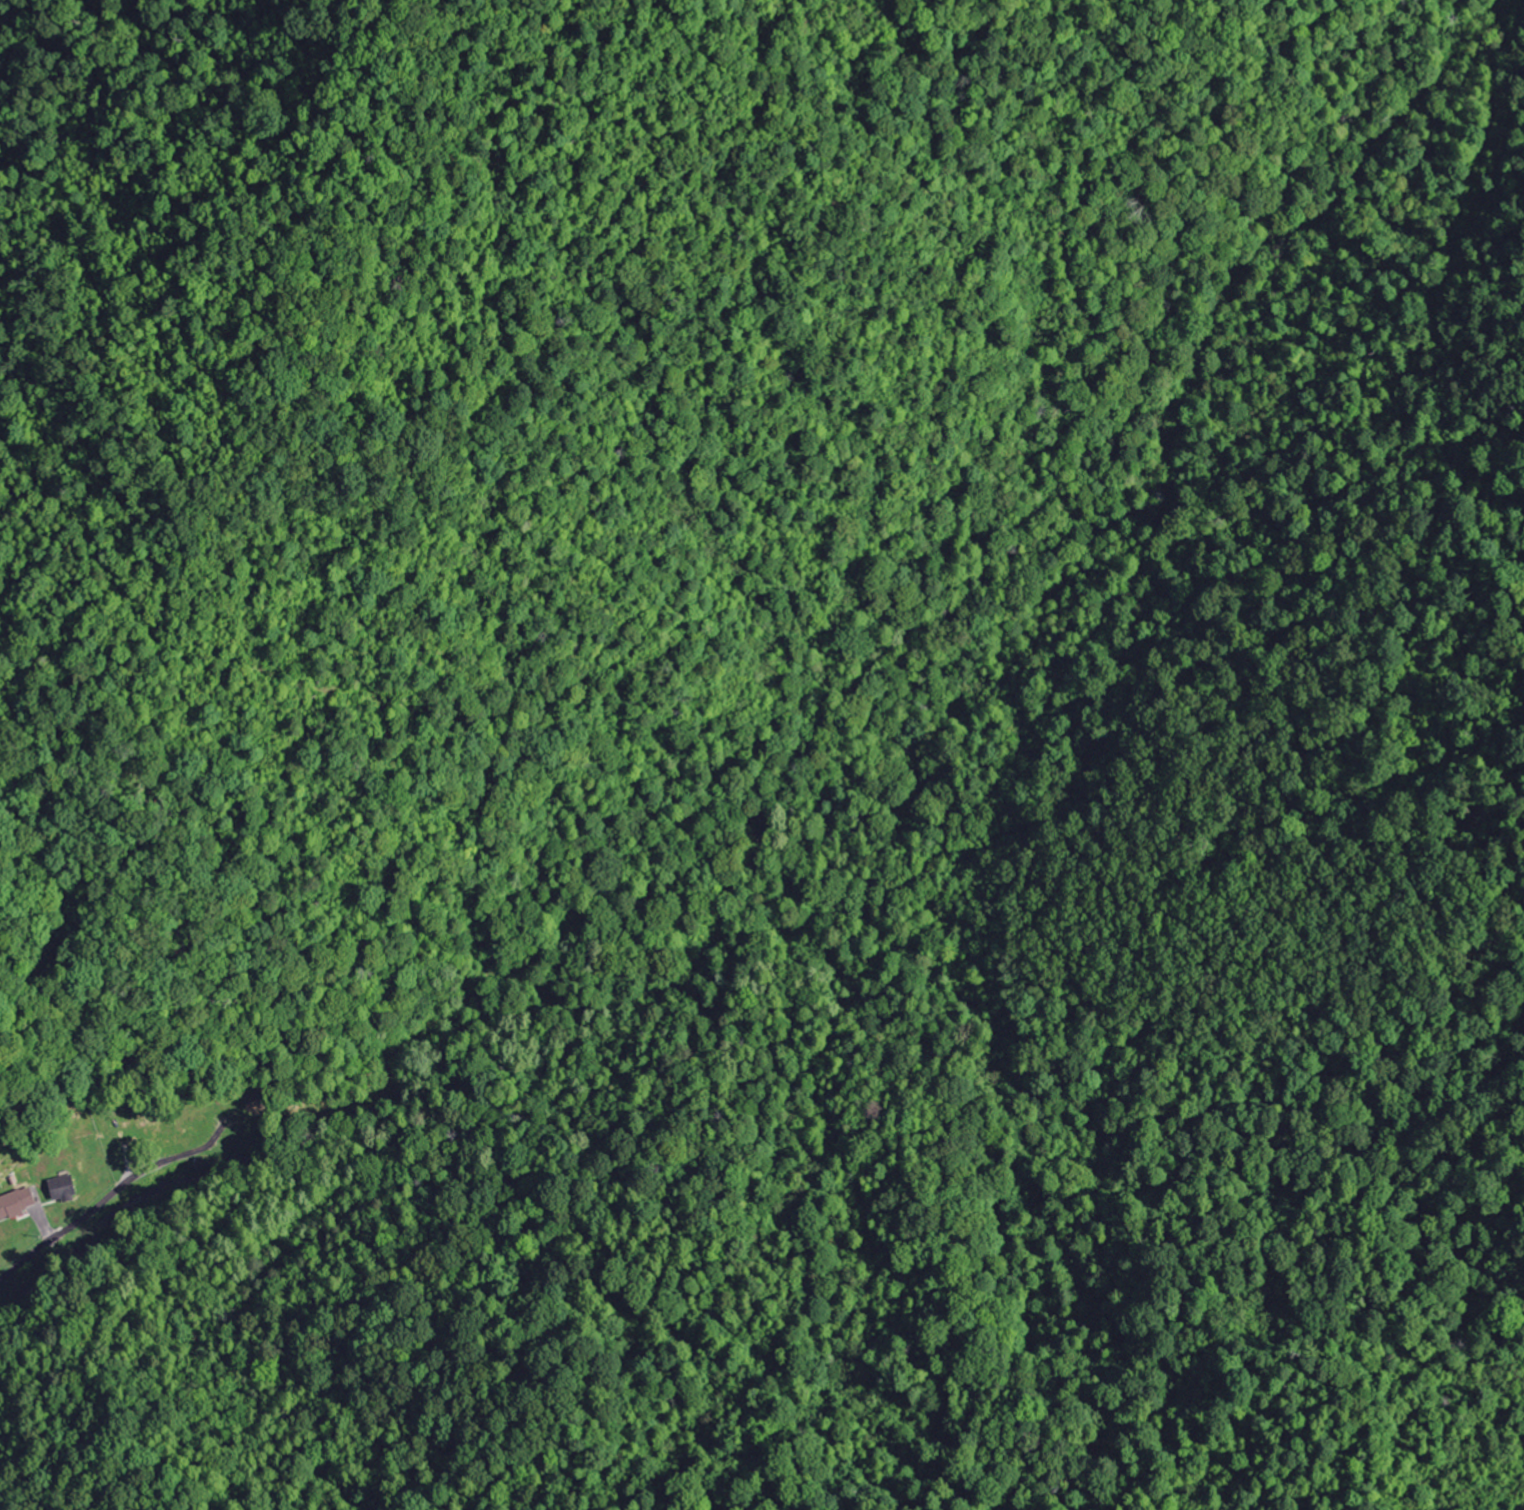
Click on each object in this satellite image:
building: (66, 1188)
road: (108, 1198)
building: (17, 1203)

